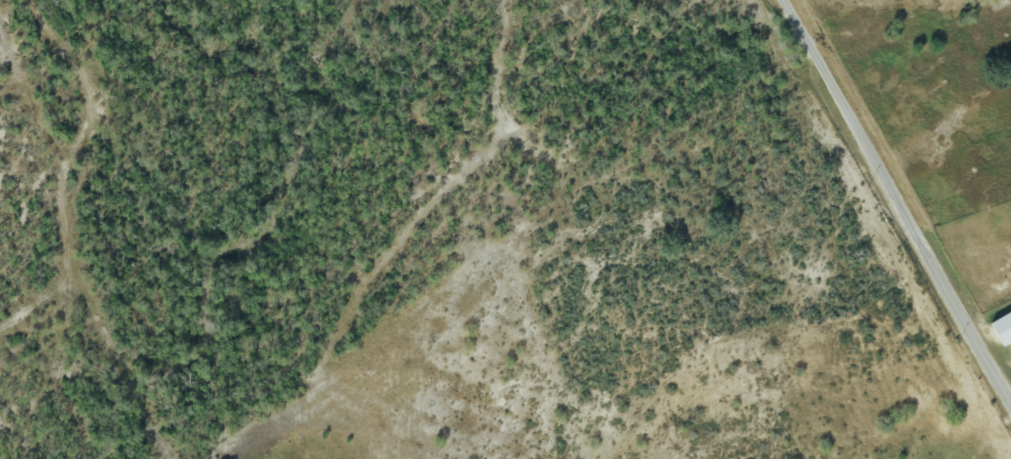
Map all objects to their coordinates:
road: (902, 193)
building: (1002, 327)

